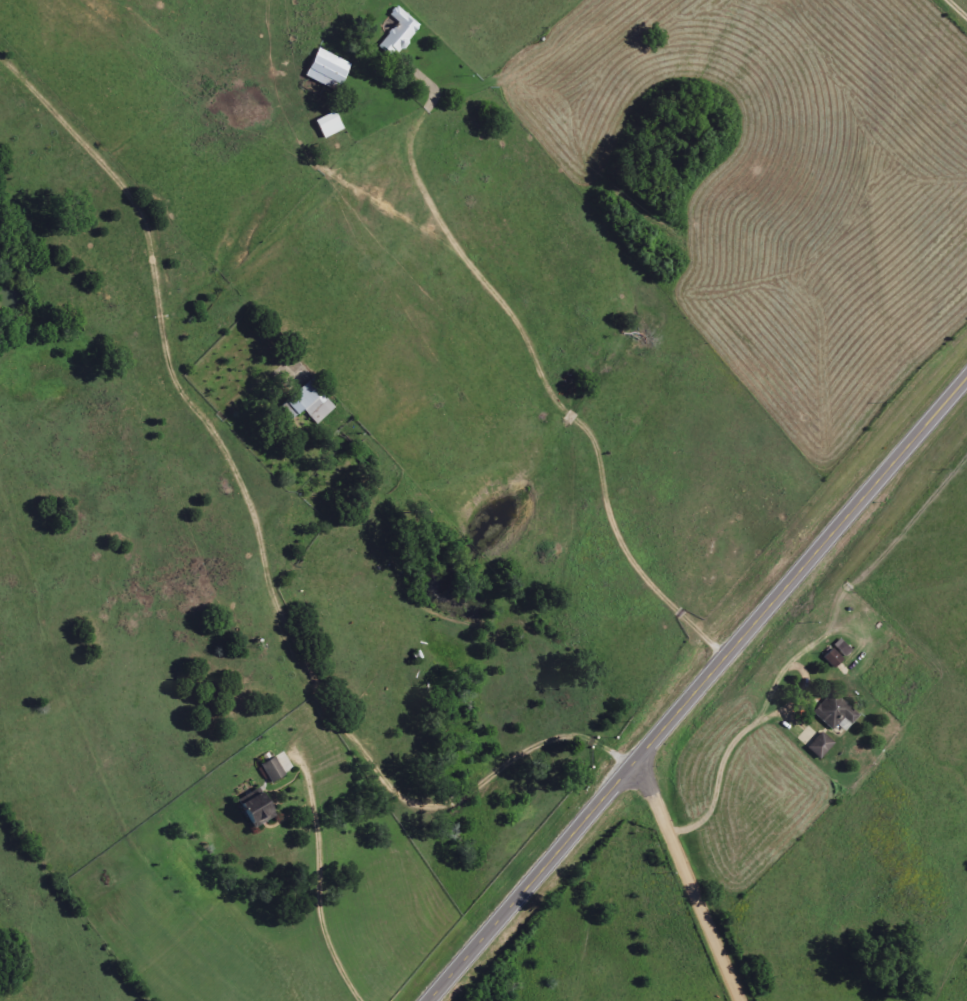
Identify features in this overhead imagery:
road: (959, 7)
building: (398, 33)
building: (327, 70)
building: (328, 125)
road: (564, 396)
building: (309, 403)
road: (258, 532)
building: (842, 649)
building: (832, 658)
road: (700, 691)
building: (834, 712)
building: (819, 746)
building: (255, 811)
road: (694, 880)
road: (318, 885)

